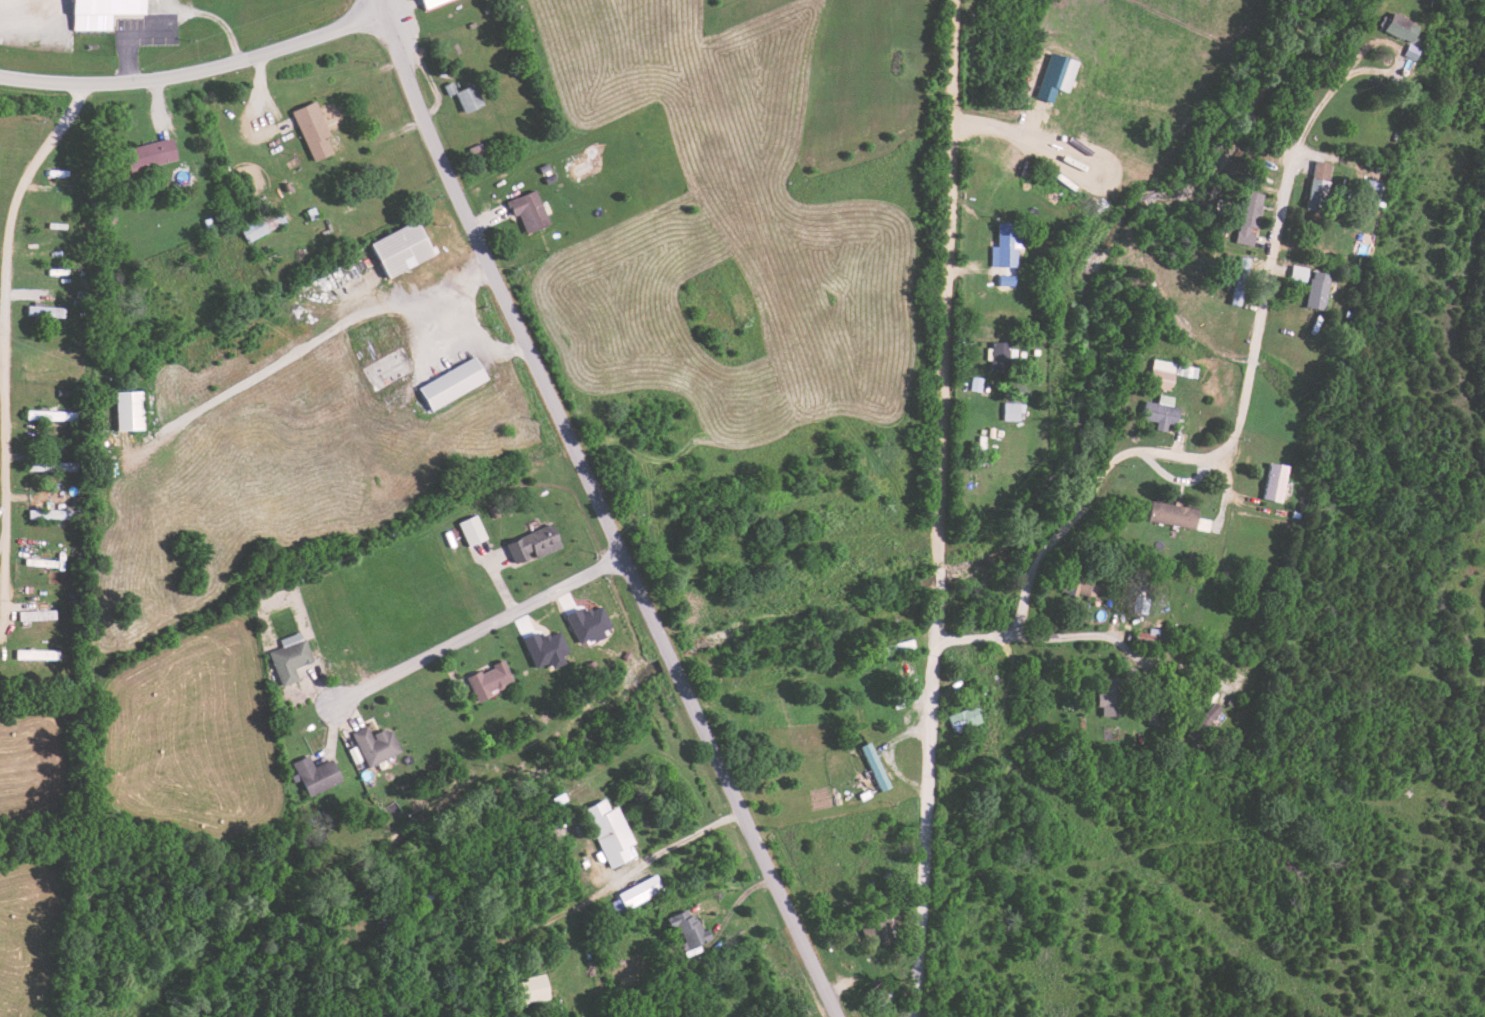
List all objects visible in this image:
road: (0, 0)
building: (434, 3)
road: (362, 4)
building: (105, 12)
road: (220, 21)
building: (1408, 36)
road: (188, 74)
building: (1059, 76)
building: (468, 98)
road: (1004, 130)
building: (153, 154)
building: (1324, 170)
building: (1323, 194)
building: (531, 211)
building: (1250, 218)
building: (255, 230)
road: (18, 238)
building: (1007, 246)
building: (404, 249)
building: (1318, 292)
road: (407, 310)
building: (1163, 374)
building: (454, 383)
road: (1246, 391)
building: (130, 411)
building: (1013, 411)
building: (1163, 413)
building: (1276, 482)
road: (942, 508)
road: (604, 511)
building: (474, 529)
building: (537, 543)
building: (591, 623)
road: (4, 625)
road: (480, 628)
road: (1023, 636)
road: (1169, 664)
building: (492, 679)
building: (376, 744)
building: (876, 766)
building: (317, 774)
building: (612, 832)
road: (685, 841)
building: (642, 891)

